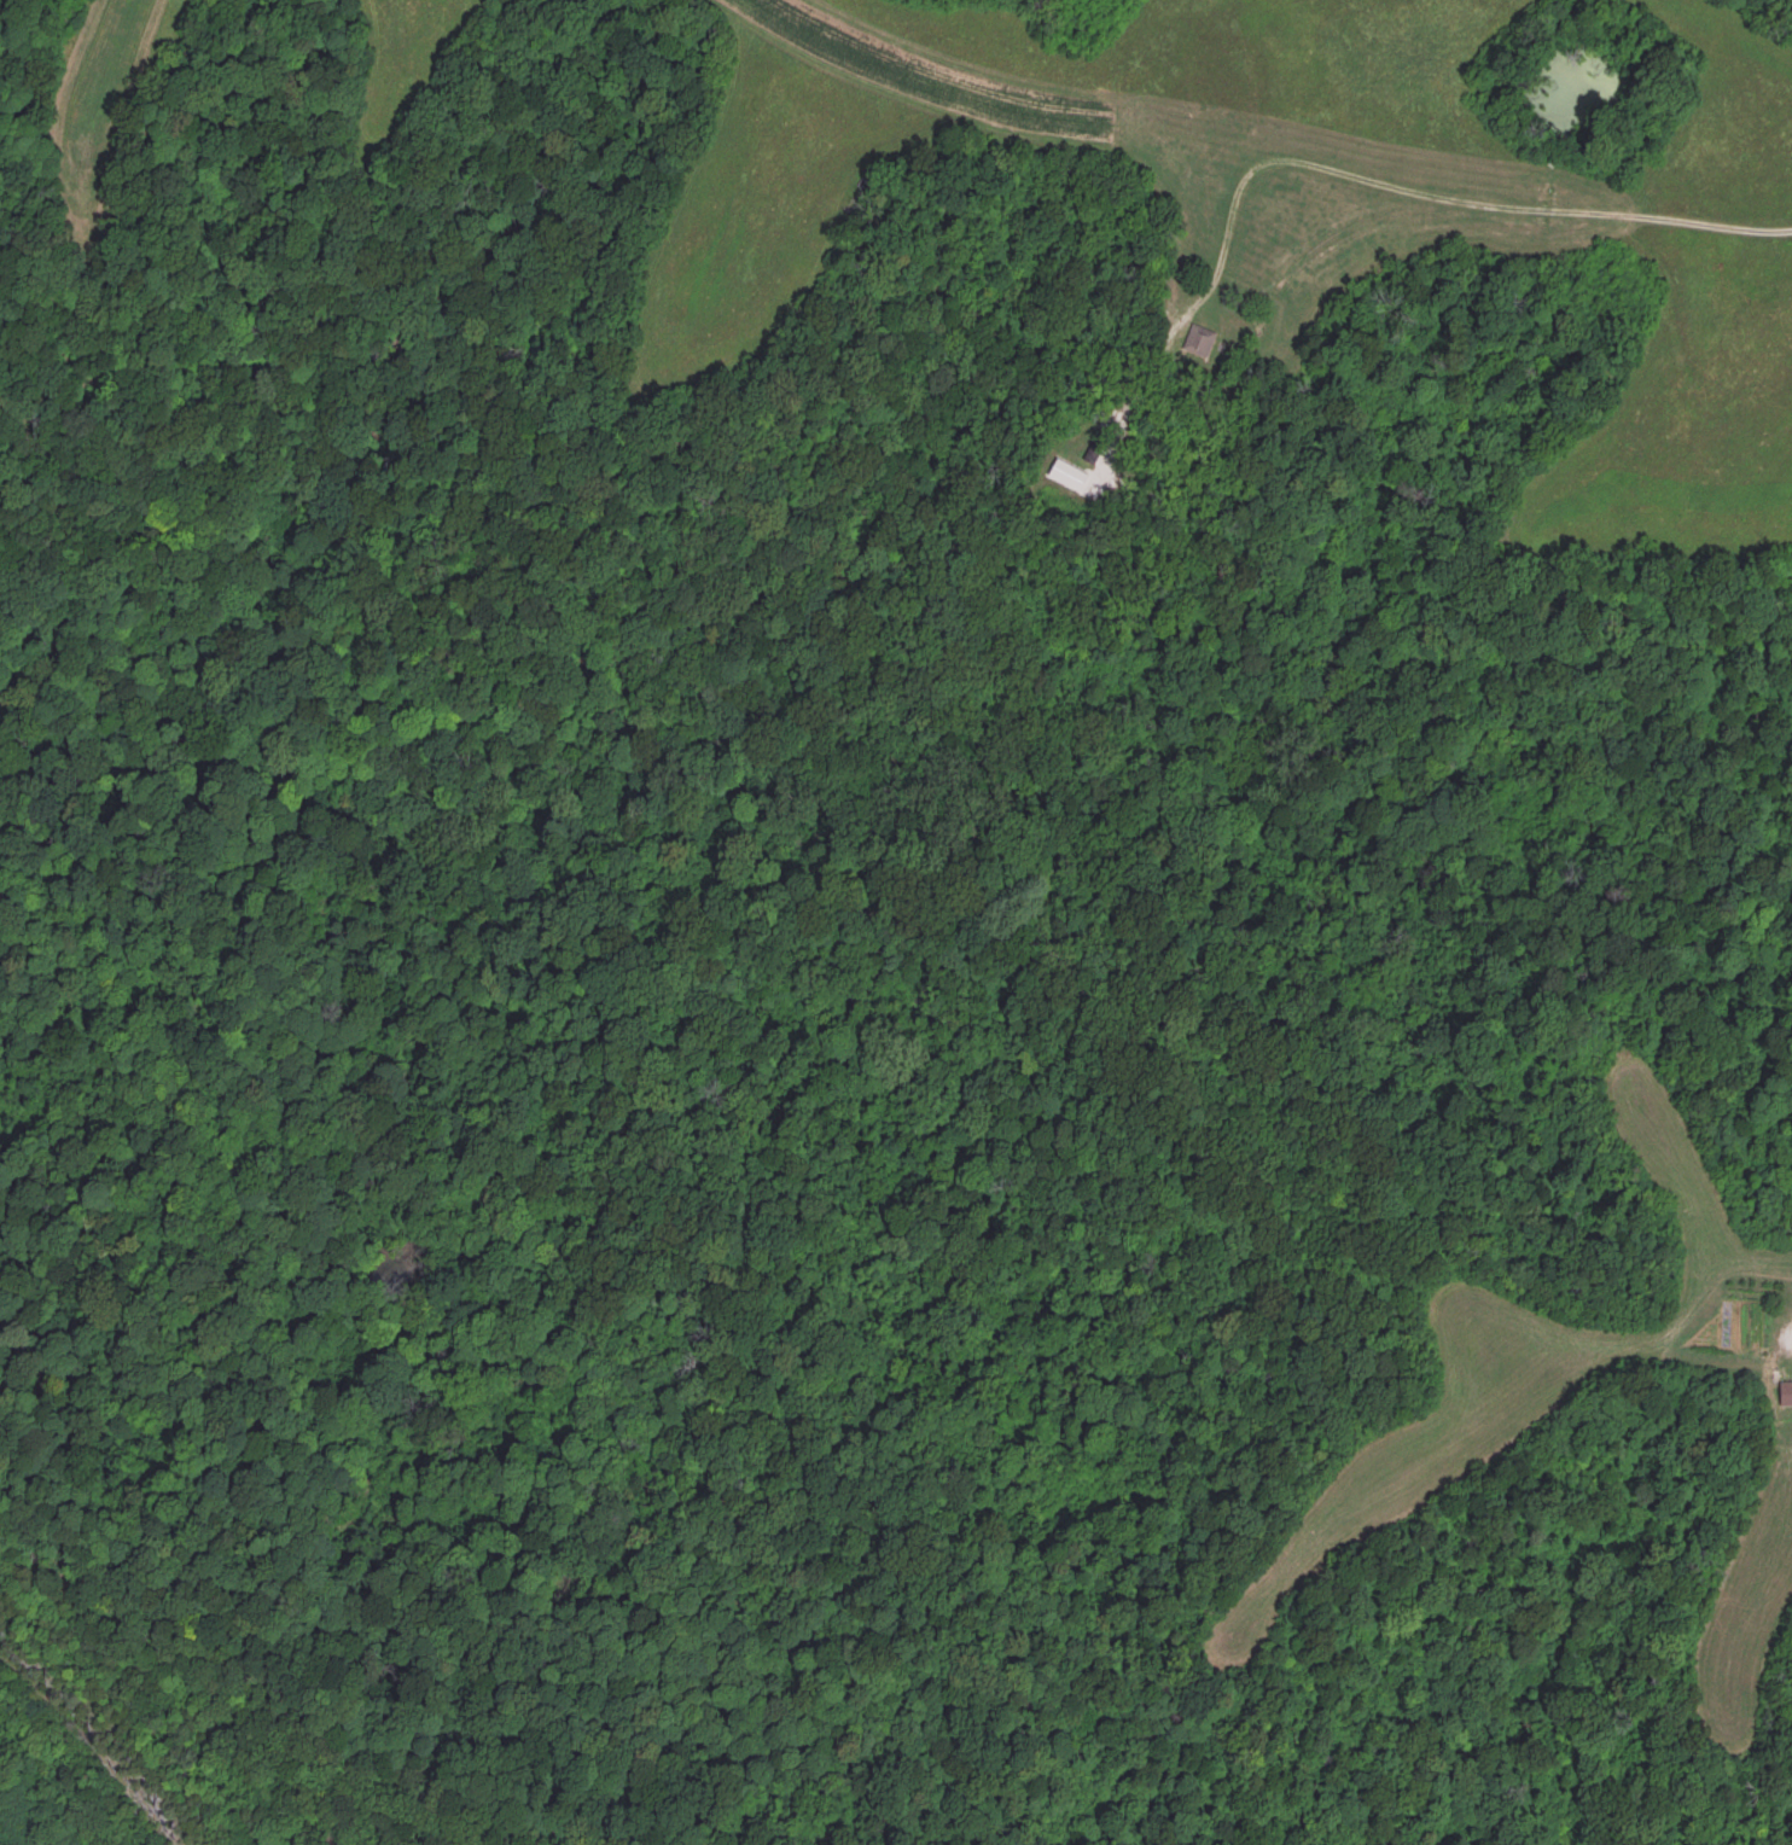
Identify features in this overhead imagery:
building: (1199, 339)
building: (1786, 1392)

